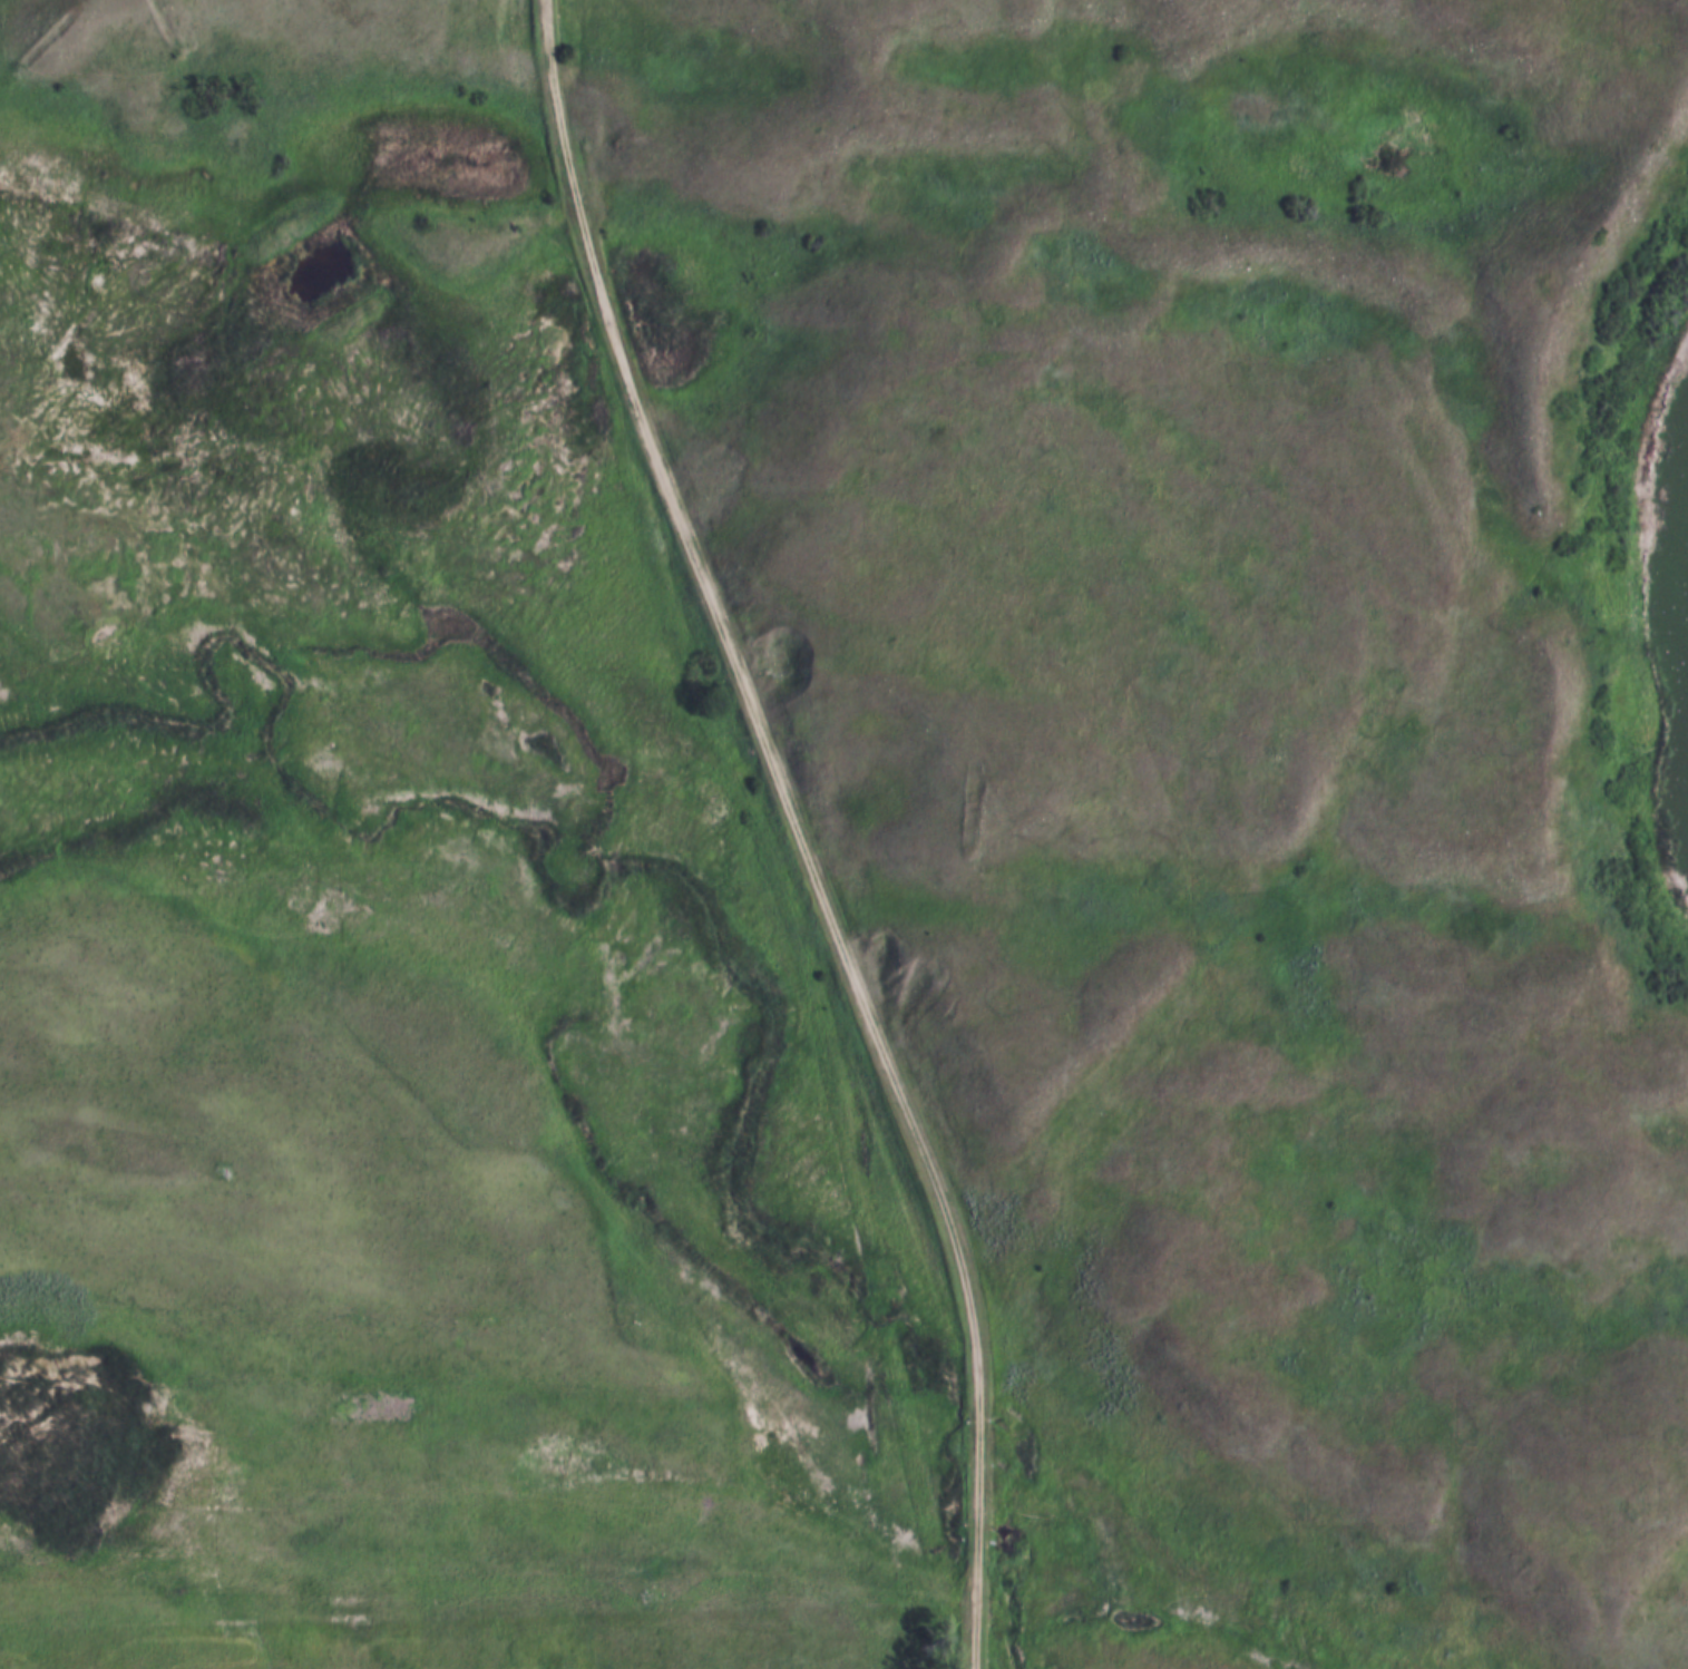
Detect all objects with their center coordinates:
road: (800, 829)
river: (711, 910)

